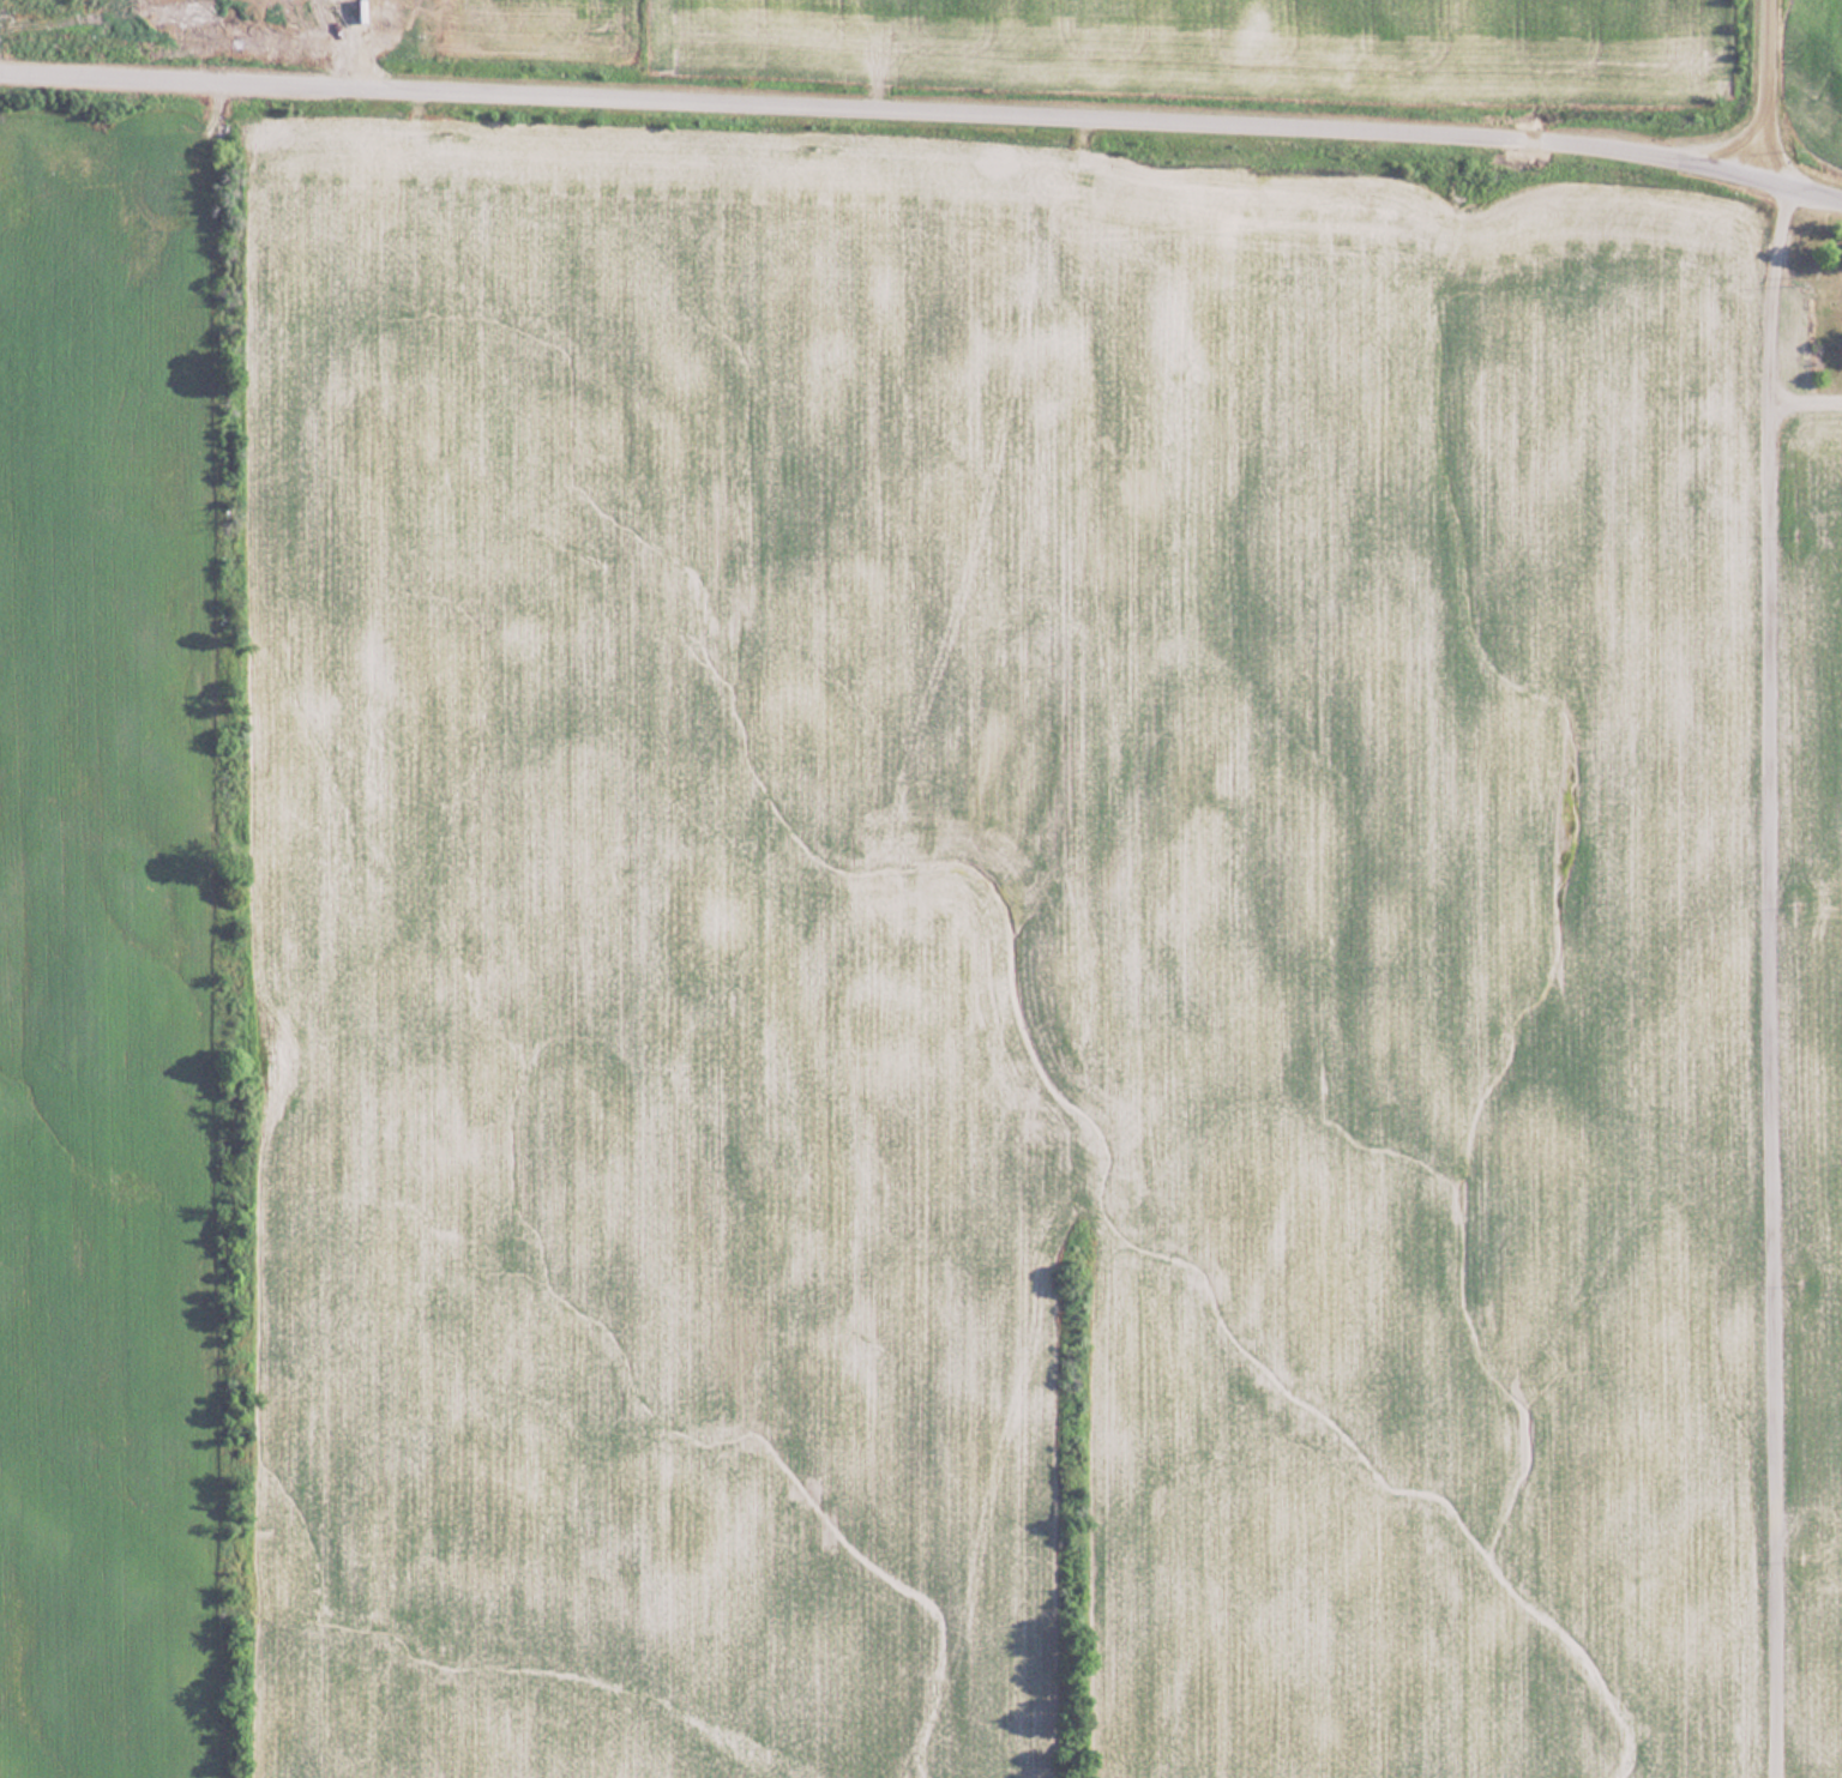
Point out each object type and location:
road: (1769, 92)
road: (879, 114)
road: (1798, 193)

